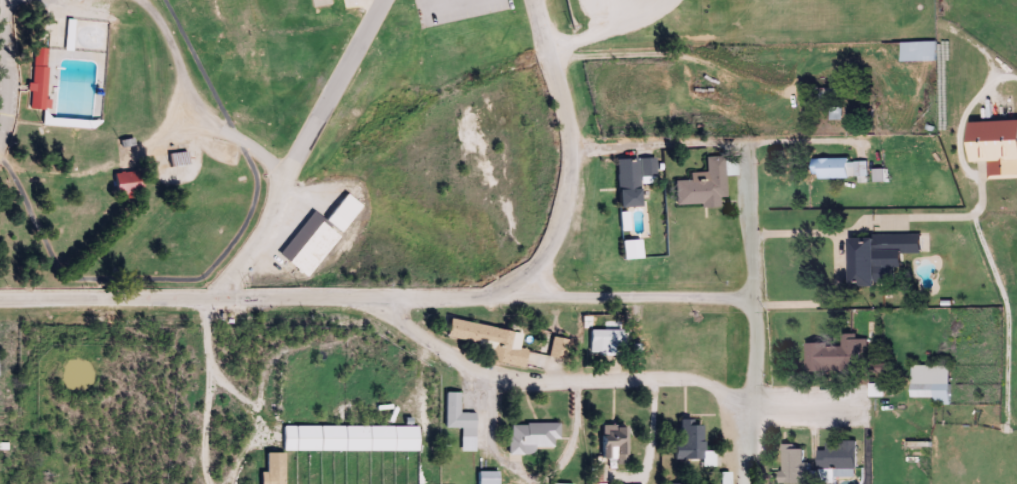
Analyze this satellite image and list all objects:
building: (913, 50)
road: (670, 54)
road: (12, 73)
building: (41, 80)
building: (823, 94)
road: (198, 102)
building: (991, 146)
road: (300, 148)
road: (569, 159)
building: (835, 168)
park: (241, 171)
building: (630, 179)
building: (703, 183)
building: (316, 235)
building: (867, 257)
road: (218, 259)
road: (629, 295)
road: (428, 296)
road: (177, 298)
building: (486, 341)
building: (602, 342)
building: (556, 347)
building: (832, 357)
road: (603, 380)
building: (929, 380)
building: (457, 420)
building: (530, 436)
building: (348, 438)
building: (685, 441)
building: (610, 444)
road: (745, 446)
building: (833, 457)
building: (788, 465)
building: (268, 469)
building: (593, 476)

